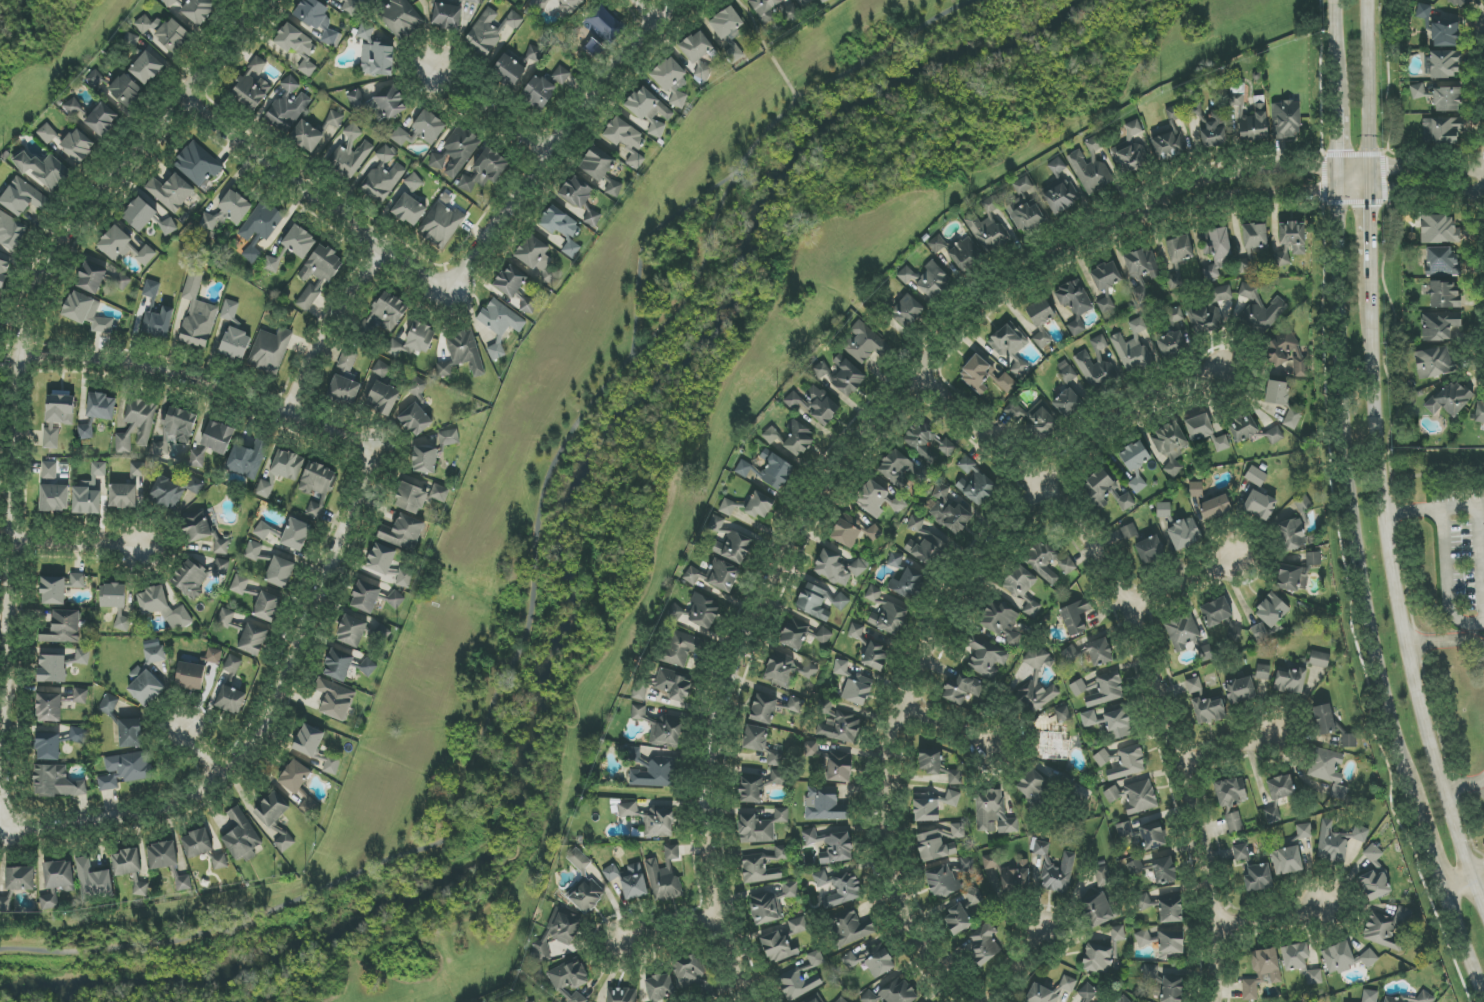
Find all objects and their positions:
building: (334, 0)
building: (473, 1)
building: (170, 2)
building: (1460, 2)
building: (538, 5)
building: (570, 6)
road: (645, 7)
building: (765, 9)
building: (198, 10)
road: (14, 13)
building: (446, 15)
building: (402, 18)
building: (318, 20)
building: (606, 24)
building: (490, 31)
building: (729, 31)
building: (165, 32)
building: (366, 32)
building: (1445, 34)
road: (1336, 40)
building: (297, 47)
road: (765, 51)
park: (47, 52)
building: (697, 53)
building: (534, 54)
building: (378, 59)
building: (1444, 64)
building: (147, 68)
building: (509, 69)
building: (561, 75)
building: (95, 79)
building: (671, 80)
road: (1369, 84)
building: (126, 90)
building: (1418, 91)
building: (539, 92)
building: (1447, 99)
building: (357, 100)
building: (391, 102)
building: (287, 107)
building: (75, 109)
building: (1194, 109)
road: (490, 111)
building: (649, 111)
building: (1174, 115)
building: (1250, 117)
building: (102, 119)
building: (335, 120)
building: (1287, 120)
building: (421, 130)
building: (1215, 130)
building: (1441, 131)
building: (47, 134)
road: (1337, 135)
building: (307, 136)
building: (627, 140)
road: (552, 143)
building: (78, 146)
building: (1169, 146)
traffic signals: (1338, 149)
building: (1130, 150)
building: (352, 152)
building: (455, 153)
building: (597, 164)
building: (197, 165)
building: (1089, 166)
traffic signals: (1388, 168)
building: (44, 169)
road: (1320, 169)
building: (485, 171)
building: (383, 176)
building: (414, 182)
building: (614, 188)
building: (1059, 188)
traffic signals: (1317, 191)
road: (1321, 191)
building: (171, 192)
road: (314, 195)
building: (21, 198)
building: (581, 200)
building: (991, 205)
building: (1025, 207)
traffic signals: (1371, 207)
building: (409, 210)
building: (228, 211)
building: (140, 214)
building: (261, 222)
building: (441, 224)
building: (168, 227)
road: (1371, 228)
building: (562, 229)
building: (1439, 230)
building: (11, 231)
building: (987, 233)
building: (1255, 235)
building: (299, 241)
building: (1290, 241)
building: (115, 243)
road: (642, 245)
building: (1218, 246)
building: (1180, 248)
building: (252, 252)
building: (959, 252)
building: (534, 254)
building: (146, 255)
building: (1246, 261)
building: (1442, 262)
building: (271, 264)
building: (1142, 264)
building: (3, 272)
building: (1211, 272)
building: (318, 275)
building: (91, 277)
building: (1175, 278)
building: (927, 279)
building: (1106, 283)
building: (514, 287)
building: (151, 289)
building: (0, 294)
building: (1445, 295)
building: (1074, 304)
building: (230, 310)
building: (389, 311)
building: (907, 311)
building: (1209, 311)
building: (1259, 311)
building: (86, 312)
building: (197, 312)
building: (1040, 312)
building: (1175, 315)
building: (158, 323)
building: (500, 324)
building: (1137, 325)
road: (329, 326)
building: (1439, 326)
building: (1041, 339)
building: (414, 341)
building: (1008, 341)
building: (1172, 343)
building: (235, 344)
building: (865, 344)
building: (270, 349)
building: (1286, 352)
building: (1132, 353)
building: (462, 354)
building: (348, 359)
building: (1434, 363)
building: (1099, 365)
building: (381, 369)
building: (1020, 369)
building: (821, 370)
building: (976, 372)
building: (1066, 372)
road: (18, 373)
building: (848, 378)
building: (1007, 384)
building: (418, 388)
building: (344, 390)
building: (1277, 393)
building: (383, 398)
building: (1450, 399)
building: (1071, 401)
road: (1380, 401)
building: (814, 404)
building: (101, 407)
building: (59, 408)
road: (276, 408)
building: (1014, 411)
building: (1479, 412)
building: (1292, 419)
building: (415, 420)
building: (1041, 420)
building: (136, 426)
building: (1243, 428)
building: (86, 430)
building: (176, 430)
building: (1207, 432)
building: (771, 435)
building: (1274, 435)
building: (51, 437)
building: (217, 437)
building: (798, 438)
building: (926, 442)
park: (0, 446)
building: (1171, 446)
building: (433, 451)
building: (1134, 456)
building: (197, 458)
building: (248, 459)
building: (287, 465)
building: (49, 470)
building: (138, 470)
building: (776, 470)
building: (1256, 476)
park: (628, 480)
building: (975, 483)
building: (1137, 484)
building: (317, 487)
building: (264, 489)
building: (1196, 489)
building: (173, 491)
building: (1107, 491)
building: (89, 493)
building: (439, 493)
building: (123, 496)
building: (54, 498)
building: (412, 498)
building: (877, 499)
building: (1303, 504)
building: (760, 505)
building: (1260, 505)
building: (728, 507)
building: (1215, 507)
building: (1163, 510)
road: (1437, 510)
building: (950, 511)
road: (788, 521)
building: (196, 526)
building: (262, 530)
building: (846, 531)
building: (404, 532)
building: (873, 533)
building: (1292, 533)
building: (296, 534)
building: (1130, 534)
building: (1184, 534)
road: (76, 545)
building: (221, 547)
building: (734, 547)
building: (926, 547)
building: (1151, 549)
building: (253, 550)
building: (381, 558)
building: (895, 560)
building: (1051, 561)
road: (533, 562)
building: (222, 567)
building: (838, 568)
building: (280, 572)
building: (1297, 574)
building: (715, 576)
building: (190, 579)
building: (404, 579)
road: (1446, 580)
building: (77, 581)
road: (1185, 583)
building: (239, 584)
building: (908, 584)
building: (1019, 586)
building: (53, 590)
building: (113, 596)
building: (366, 596)
building: (875, 596)
road: (1365, 596)
building: (395, 599)
building: (812, 601)
building: (841, 601)
building: (163, 607)
building: (267, 607)
building: (1032, 609)
building: (1271, 610)
building: (1216, 612)
building: (702, 613)
building: (1075, 616)
building: (226, 618)
building: (889, 619)
building: (1002, 623)
building: (62, 628)
road: (925, 628)
building: (352, 631)
building: (856, 631)
building: (1259, 631)
building: (1183, 632)
building: (794, 634)
building: (1234, 634)
building: (824, 636)
building: (253, 640)
road: (1450, 641)
road: (1145, 642)
building: (683, 648)
building: (1072, 652)
building: (1100, 652)
road: (1416, 652)
building: (1205, 653)
building: (214, 656)
building: (876, 656)
building: (81, 657)
building: (987, 657)
building: (1319, 659)
building: (338, 665)
building: (841, 667)
building: (52, 668)
building: (787, 672)
building: (1263, 672)
building: (190, 676)
building: (1290, 680)
building: (1038, 683)
building: (673, 685)
building: (1194, 685)
building: (232, 687)
building: (963, 688)
building: (1078, 688)
building: (857, 690)
building: (1240, 690)
building: (640, 691)
building: (1105, 691)
building: (1180, 691)
building: (80, 696)
building: (335, 700)
building: (795, 704)
building: (109, 705)
building: (49, 707)
building: (764, 709)
building: (1209, 710)
building: (1063, 715)
building: (1089, 719)
building: (1324, 719)
building: (1118, 724)
building: (660, 728)
building: (839, 728)
building: (131, 733)
building: (78, 736)
road: (945, 736)
building: (1349, 740)
building: (761, 744)
road: (1226, 744)
building: (48, 746)
building: (315, 748)
road: (203, 755)
building: (1102, 758)
building: (931, 761)
building: (1128, 763)
building: (837, 767)
building: (126, 769)
building: (1328, 772)
building: (654, 773)
building: (295, 776)
building: (778, 777)
building: (955, 777)
building: (57, 782)
road: (214, 782)
building: (1033, 787)
building: (1281, 787)
road: (1467, 787)
building: (751, 790)
building: (1231, 791)
building: (1134, 796)
building: (825, 804)
building: (309, 805)
building: (933, 805)
building: (628, 810)
building: (993, 813)
building: (781, 815)
building: (1272, 816)
building: (276, 819)
building: (660, 822)
building: (1234, 822)
building: (1124, 829)
building: (755, 830)
building: (1304, 831)
building: (1153, 836)
building: (241, 837)
building: (1337, 841)
building: (197, 843)
building: (940, 843)
building: (831, 846)
road: (1465, 849)
building: (671, 852)
building: (782, 852)
building: (162, 855)
building: (1287, 861)
building: (126, 862)
building: (220, 862)
building: (1138, 867)
building: (759, 869)
building: (1055, 869)
building: (1164, 871)
building: (59, 875)
building: (1102, 877)
building: (948, 878)
building: (1015, 878)
building: (1258, 878)
road: (1464, 878)
building: (20, 879)
building: (629, 880)
building: (663, 880)
building: (93, 882)
building: (183, 883)
building: (584, 885)
building: (1375, 885)
building: (840, 887)
building: (141, 889)
building: (974, 896)
building: (5, 902)
building: (49, 902)
building: (772, 904)
building: (1098, 910)
building: (1171, 911)
road: (1270, 915)
building: (957, 920)
building: (798, 925)
building: (851, 928)
building: (1386, 928)
building: (558, 931)
building: (1118, 933)
building: (1142, 937)
road: (649, 944)
building: (983, 944)
building: (1171, 945)
building: (779, 948)
building: (1338, 958)
building: (1369, 958)
building: (816, 959)
building: (872, 960)
building: (1300, 962)
road: (1017, 963)
building: (687, 971)
building: (1151, 972)
building: (1262, 972)
building: (571, 980)
building: (797, 984)
building: (659, 987)
building: (1172, 989)
building: (1050, 991)
building: (892, 993)
building: (1089, 994)
building: (622, 995)
building: (1370, 996)
building: (1425, 997)
building: (1394, 999)
building: (814, 1000)
building: (842, 1000)
building: (1122, 1000)
building: (530, 1001)

